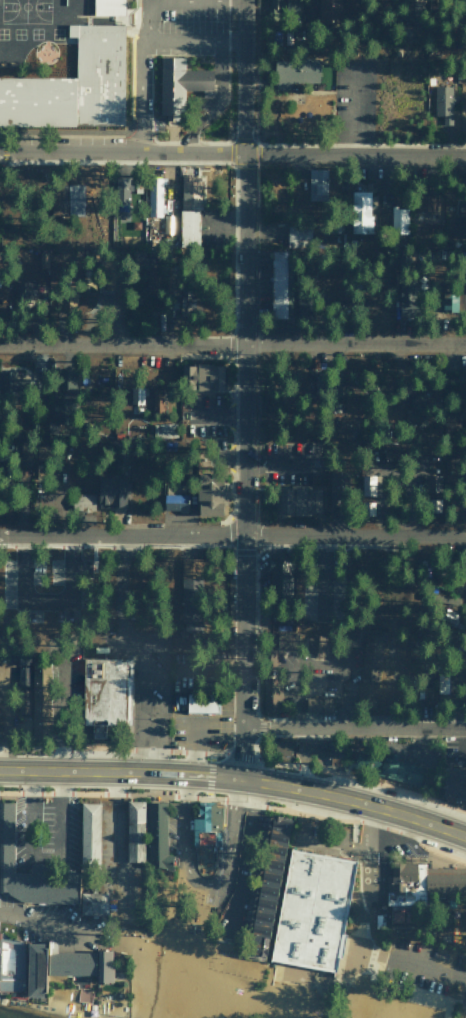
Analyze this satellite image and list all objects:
building: (114, 6)
building: (462, 7)
building: (329, 10)
road: (190, 42)
building: (294, 72)
road: (140, 76)
building: (79, 82)
building: (179, 85)
road: (216, 101)
building: (443, 103)
road: (233, 153)
building: (317, 184)
building: (190, 191)
building: (122, 193)
building: (154, 196)
building: (74, 199)
building: (425, 199)
building: (360, 211)
building: (399, 220)
building: (169, 224)
building: (188, 226)
building: (296, 235)
building: (141, 261)
building: (279, 283)
building: (23, 290)
building: (191, 297)
road: (232, 345)
building: (65, 377)
building: (201, 377)
road: (240, 389)
building: (135, 395)
building: (156, 400)
building: (414, 410)
building: (60, 411)
building: (162, 430)
building: (367, 485)
building: (110, 490)
building: (209, 494)
building: (299, 499)
building: (83, 502)
building: (175, 502)
road: (233, 534)
building: (190, 591)
building: (283, 641)
building: (348, 641)
building: (316, 644)
road: (151, 645)
building: (369, 668)
building: (23, 677)
building: (105, 694)
building: (39, 696)
building: (272, 696)
building: (201, 702)
building: (318, 704)
road: (352, 728)
parking lot: (201, 729)
road: (191, 747)
building: (281, 748)
building: (334, 753)
building: (399, 771)
road: (236, 778)
building: (454, 783)
building: (206, 824)
road: (183, 829)
building: (156, 835)
building: (89, 836)
building: (135, 836)
road: (228, 841)
road: (44, 852)
road: (22, 862)
building: (31, 872)
building: (267, 882)
road: (16, 885)
building: (418, 888)
building: (93, 902)
road: (15, 907)
building: (314, 907)
road: (58, 926)
building: (104, 963)
park: (304, 963)
building: (54, 964)
road: (426, 966)

